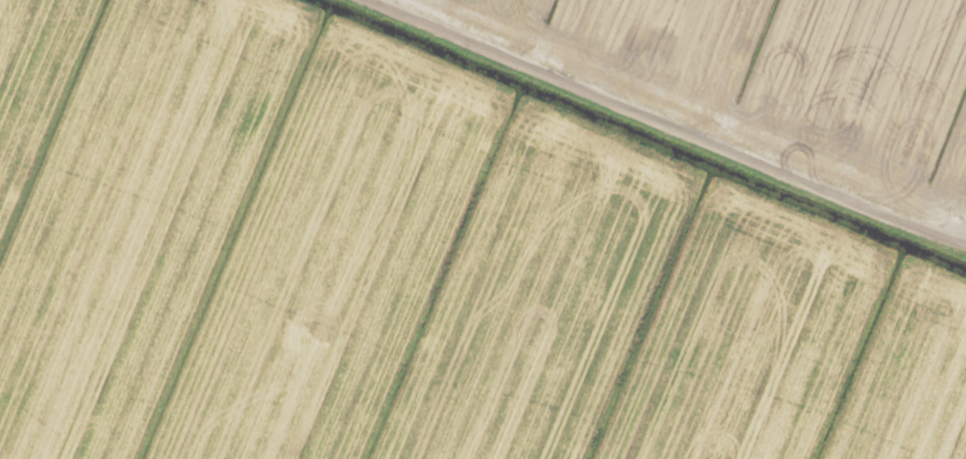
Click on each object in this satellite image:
road: (690, 118)
crop: (483, 229)

